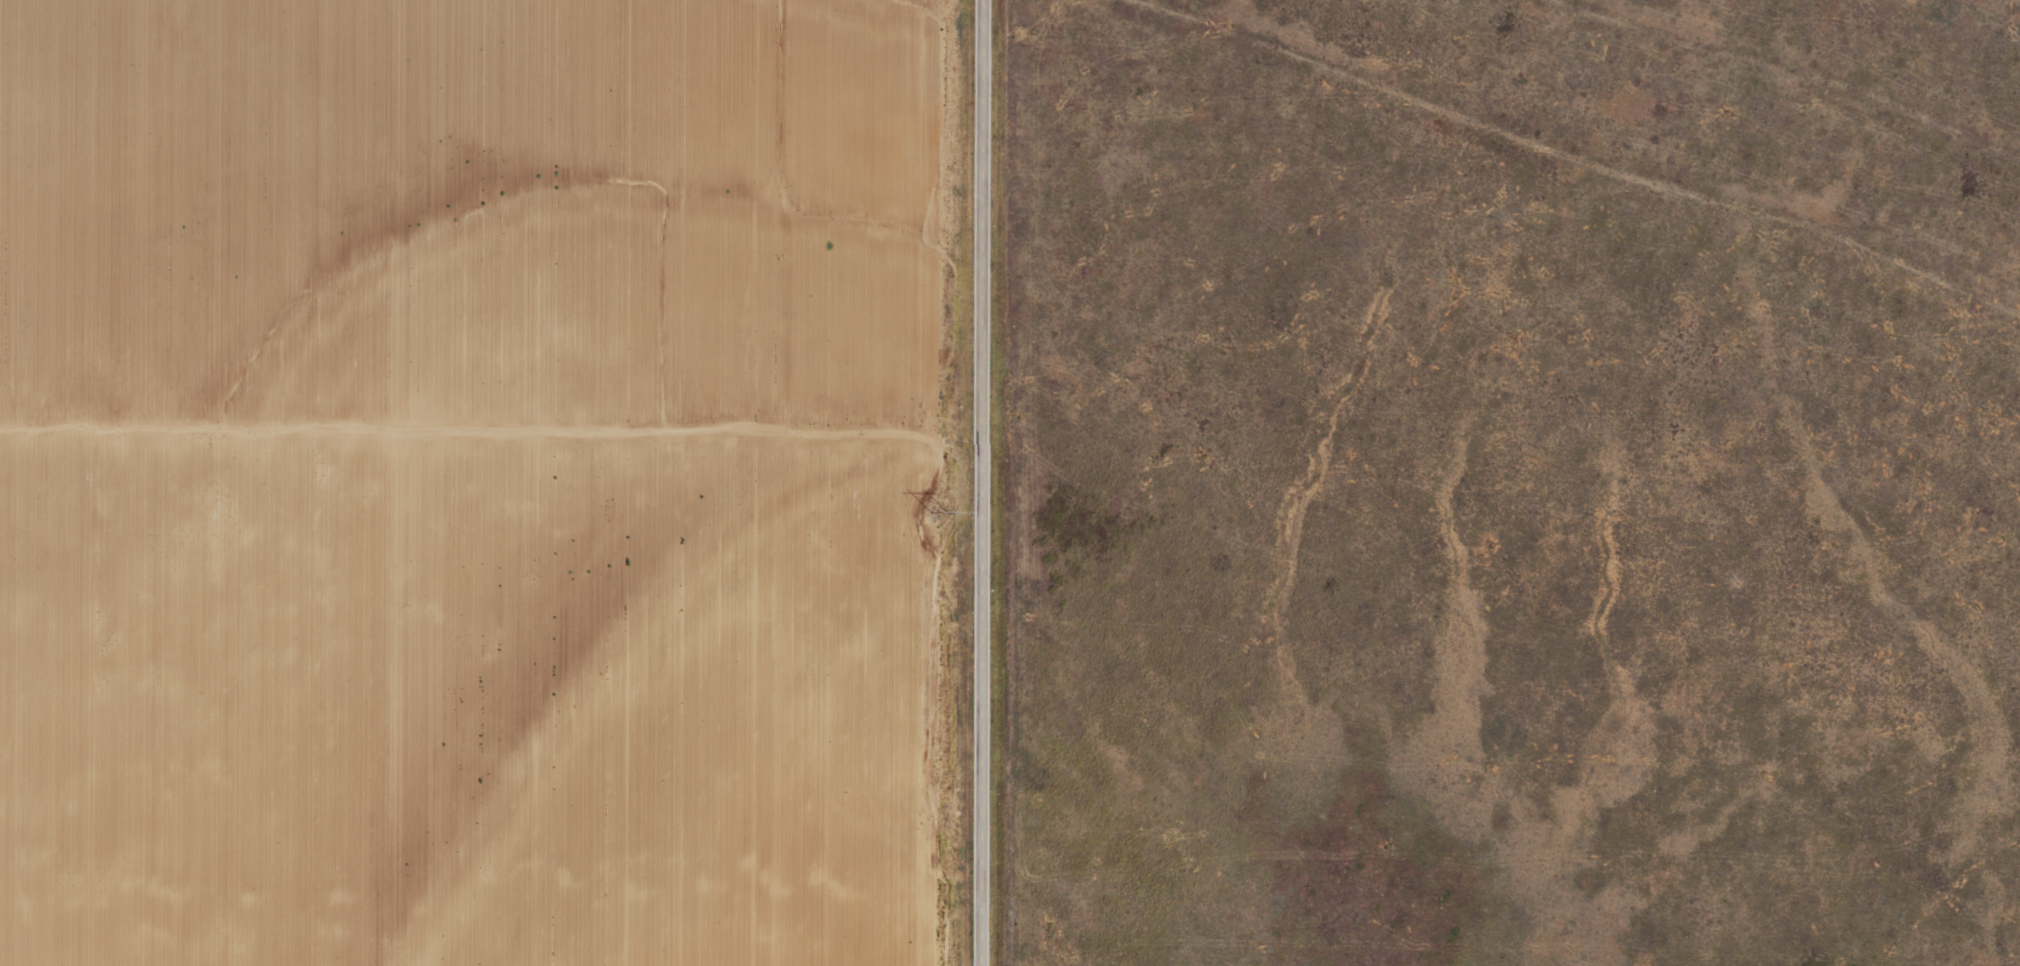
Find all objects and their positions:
road: (982, 483)
power tower: (941, 512)

